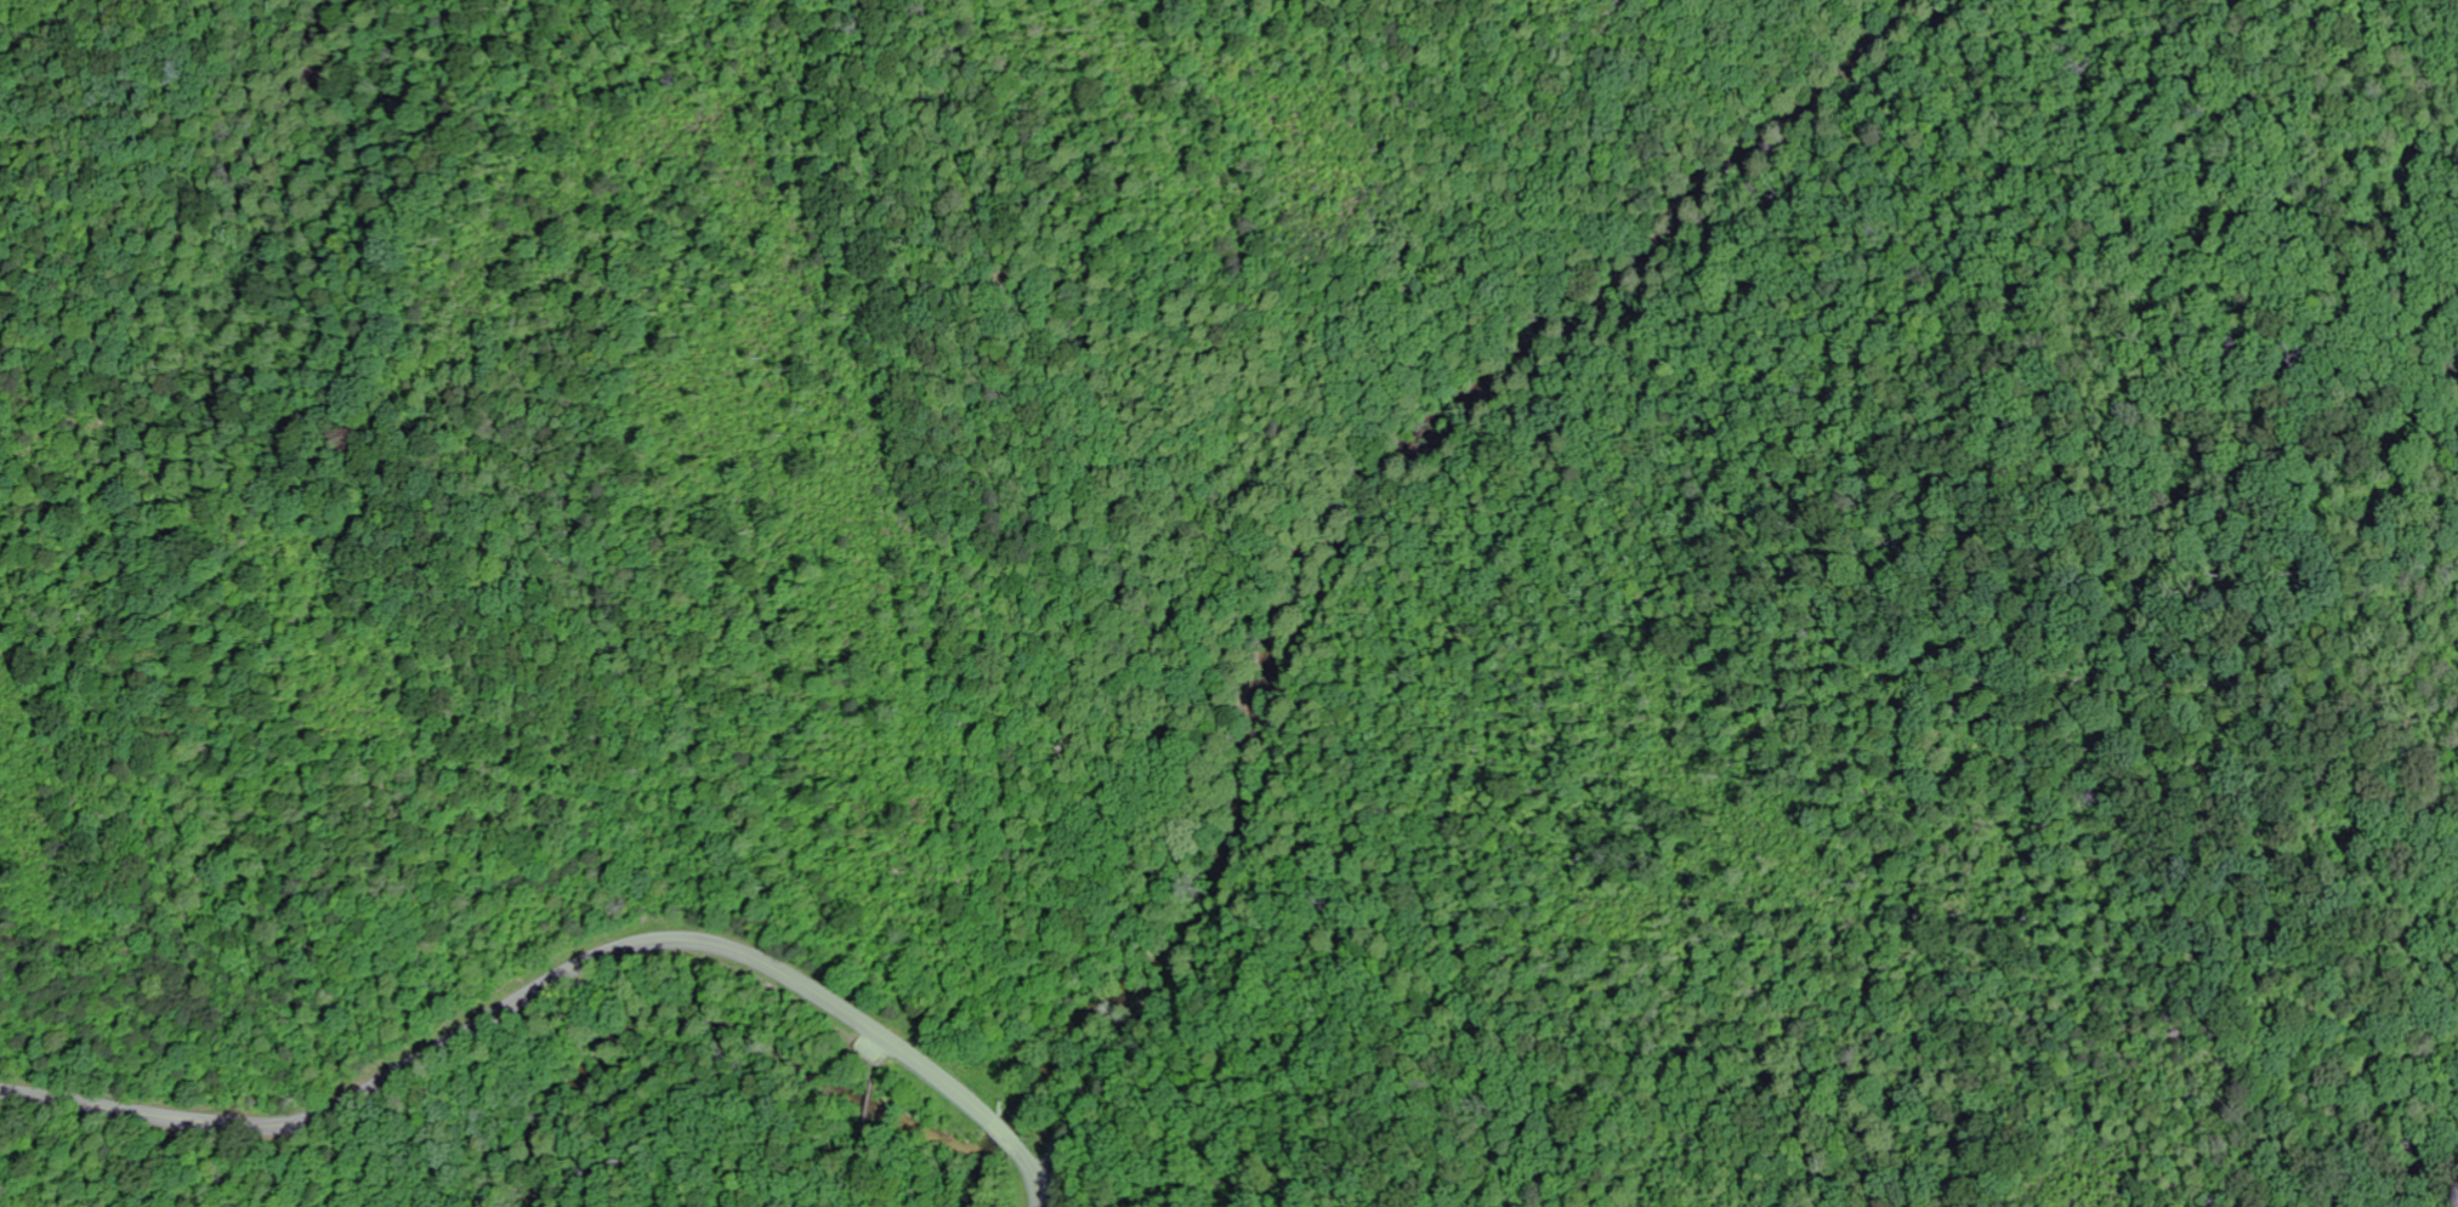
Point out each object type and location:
road: (560, 981)

